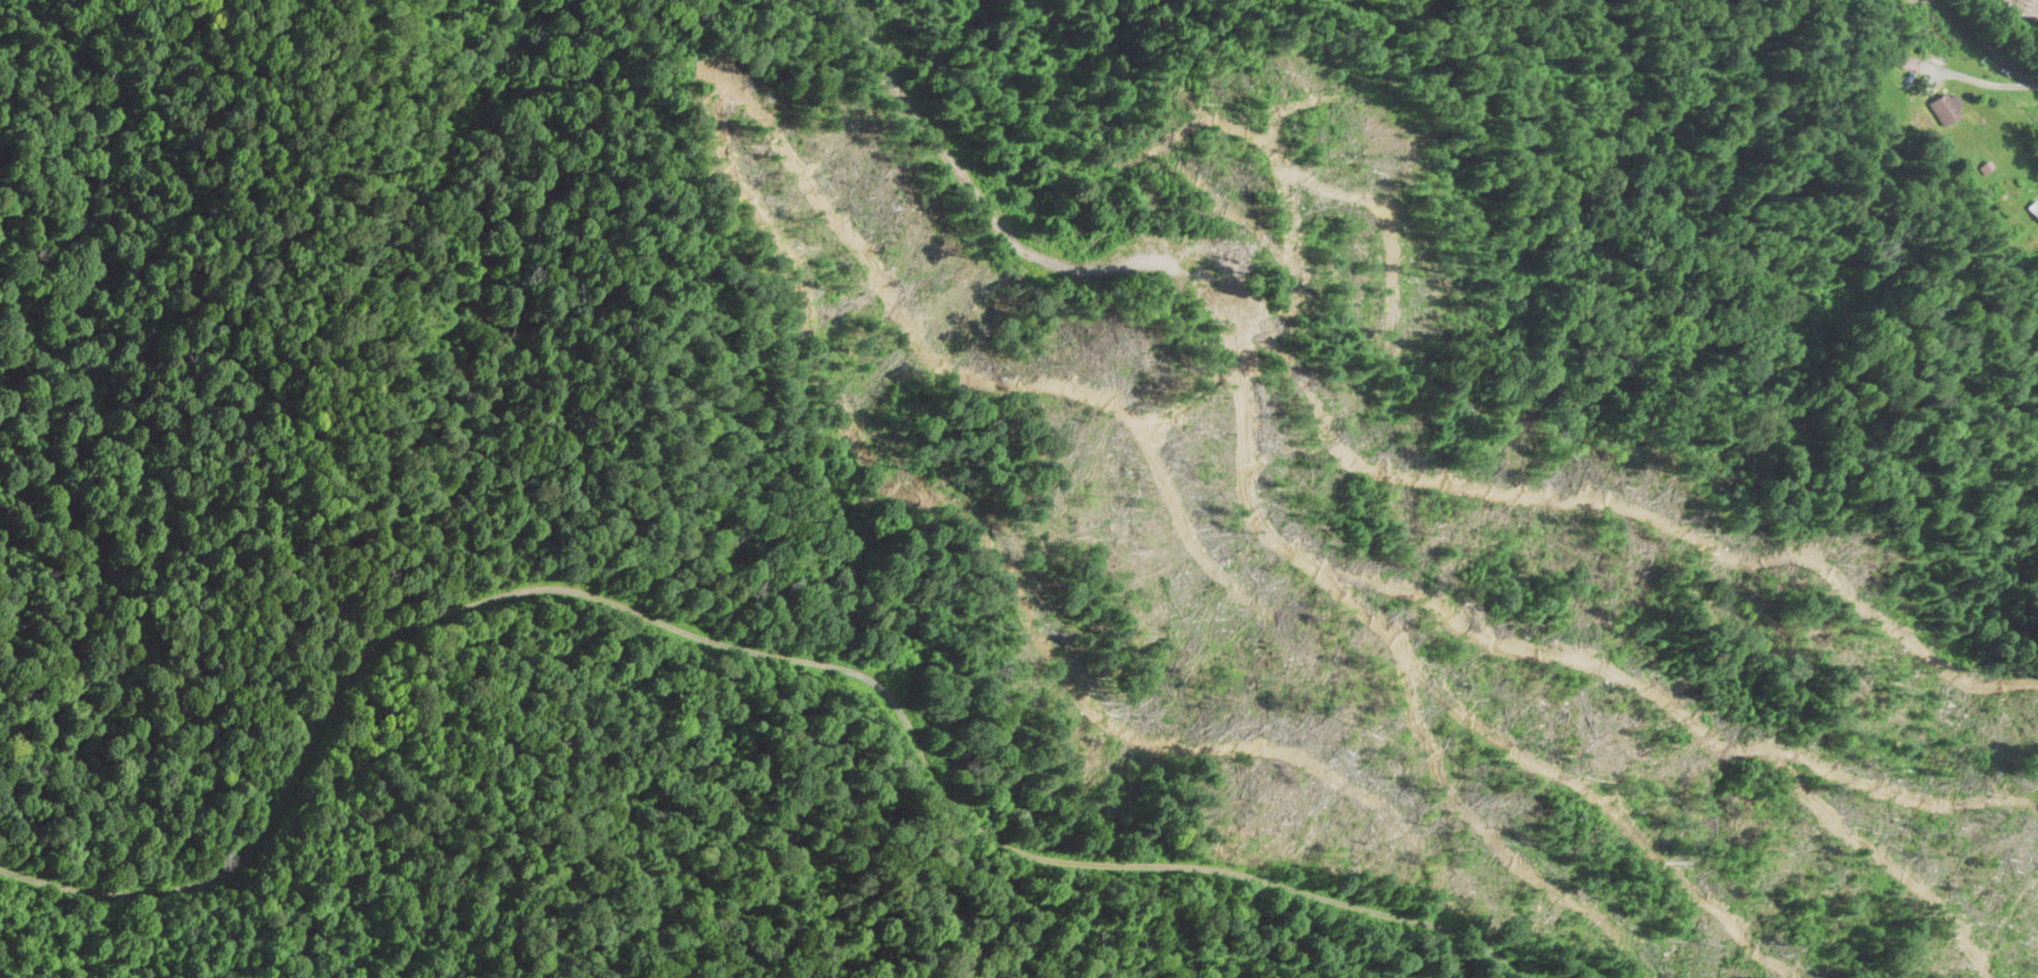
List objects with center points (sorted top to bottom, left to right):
river: (2023, 10)
road: (1990, 43)

